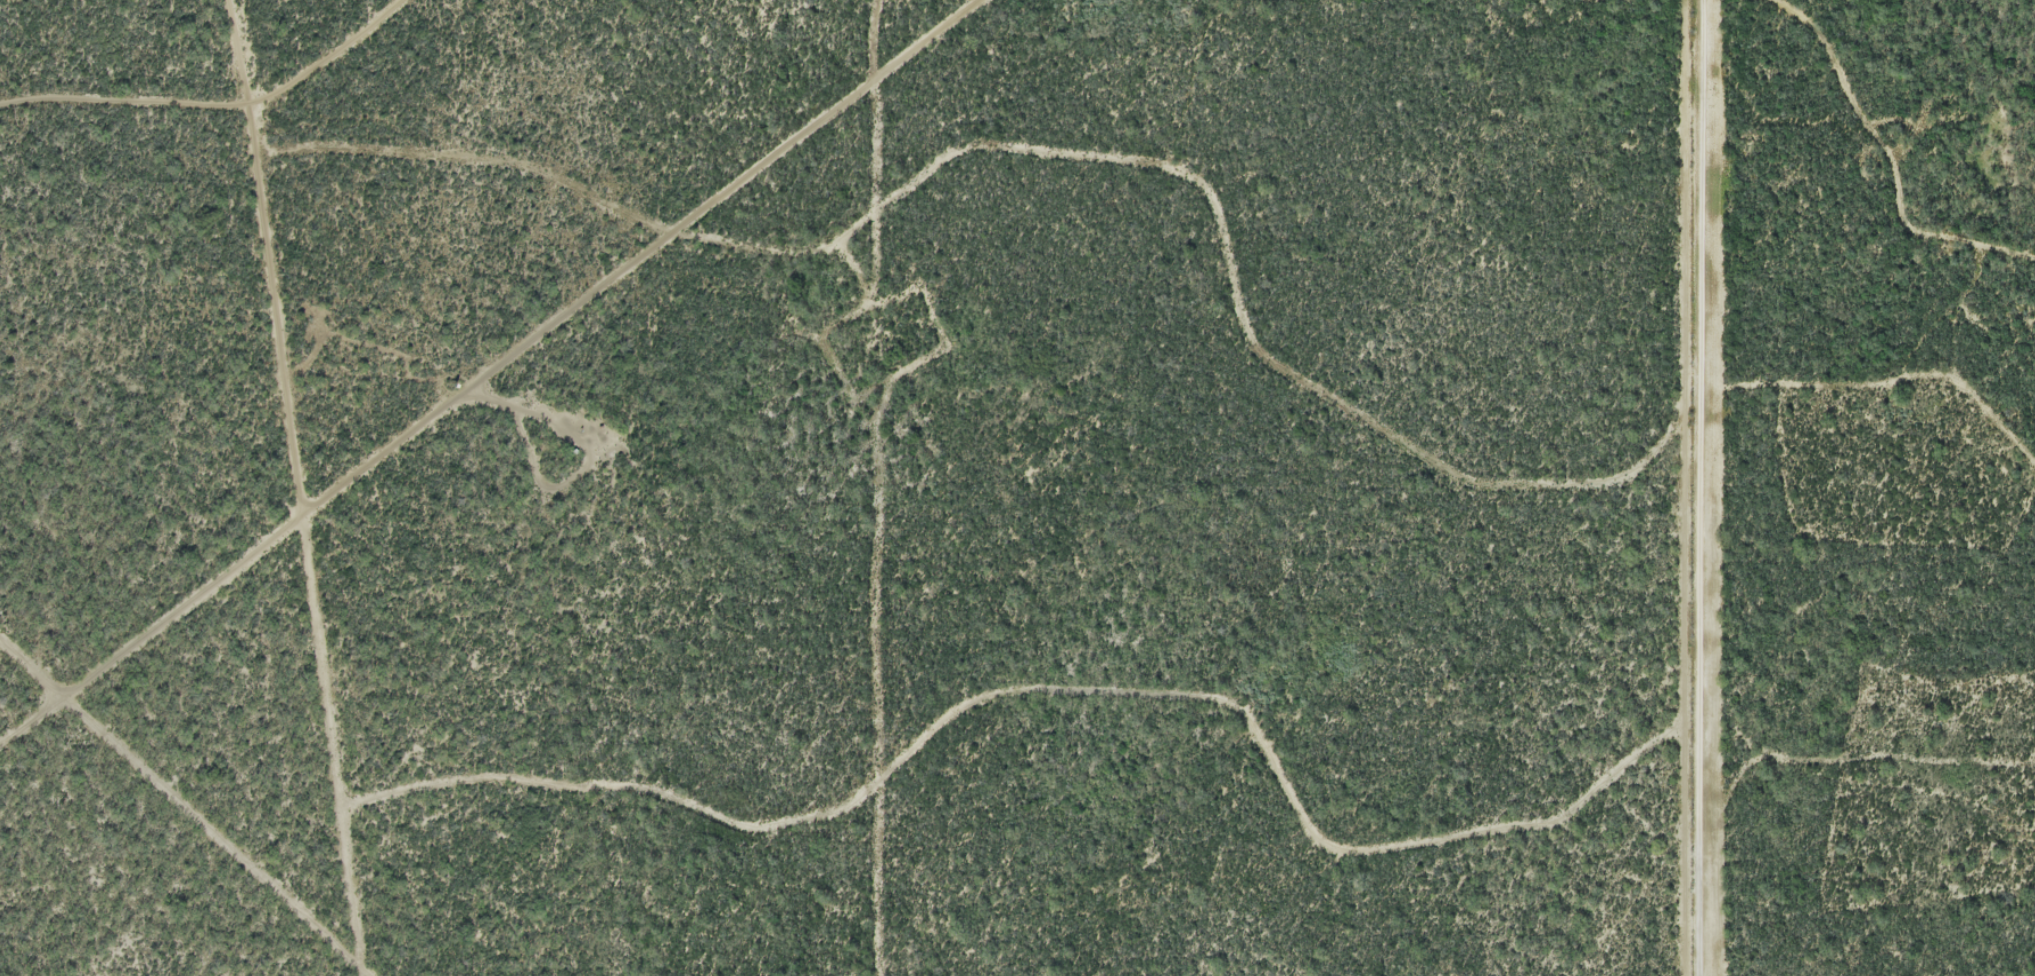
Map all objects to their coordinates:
road: (1699, 487)
road: (187, 806)

